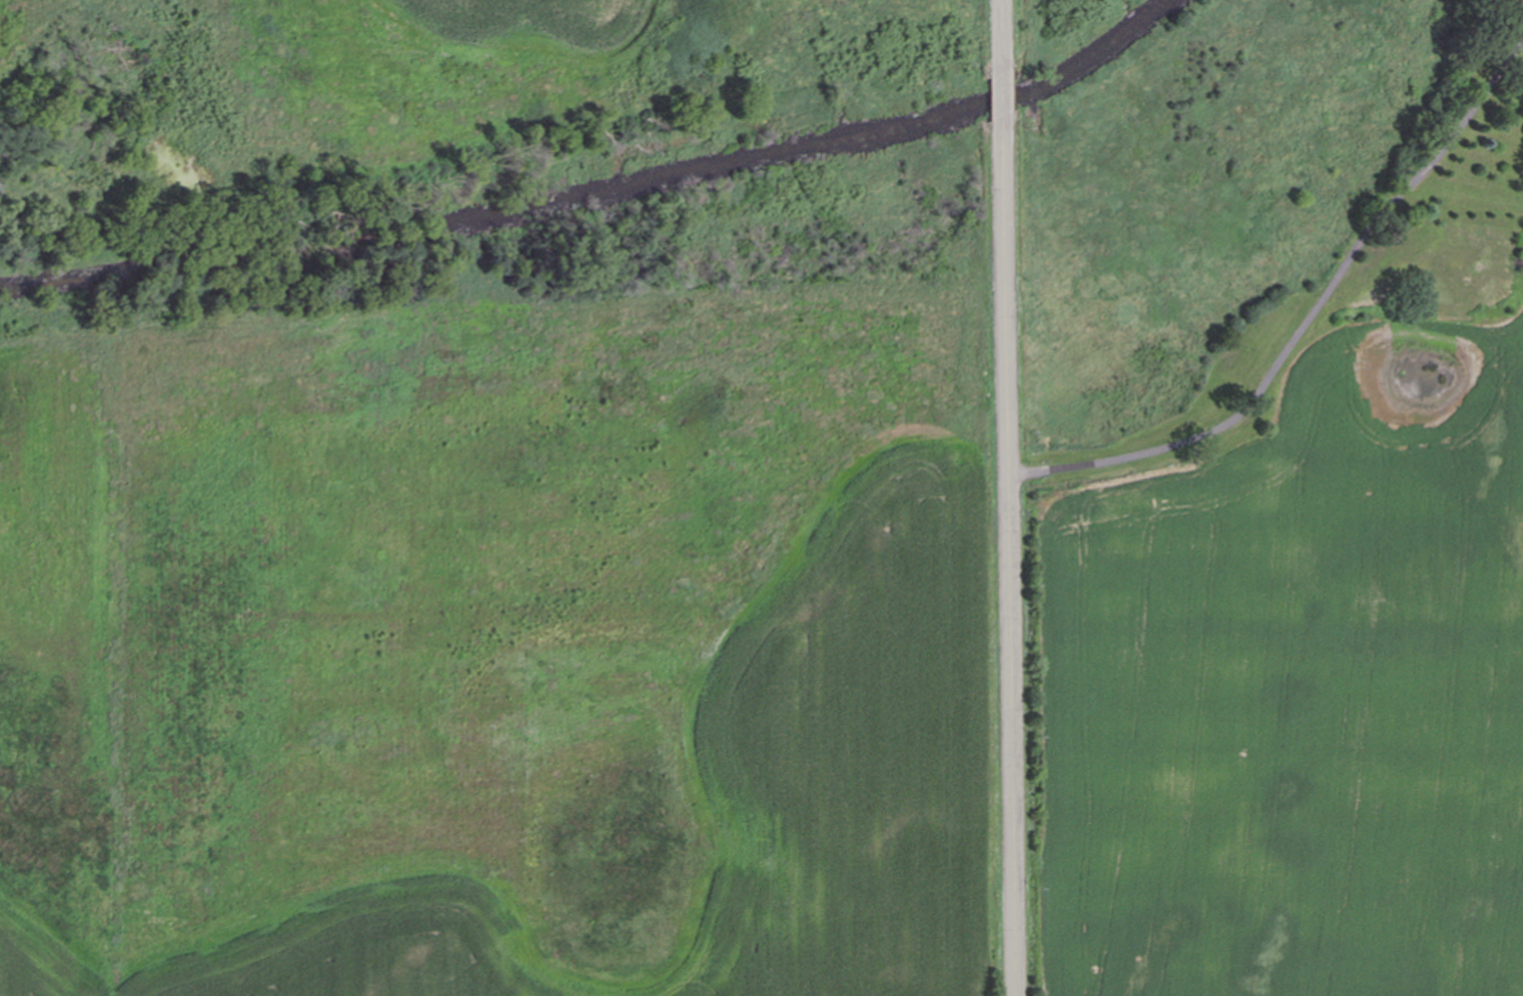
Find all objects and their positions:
road: (1308, 325)
road: (1007, 497)

